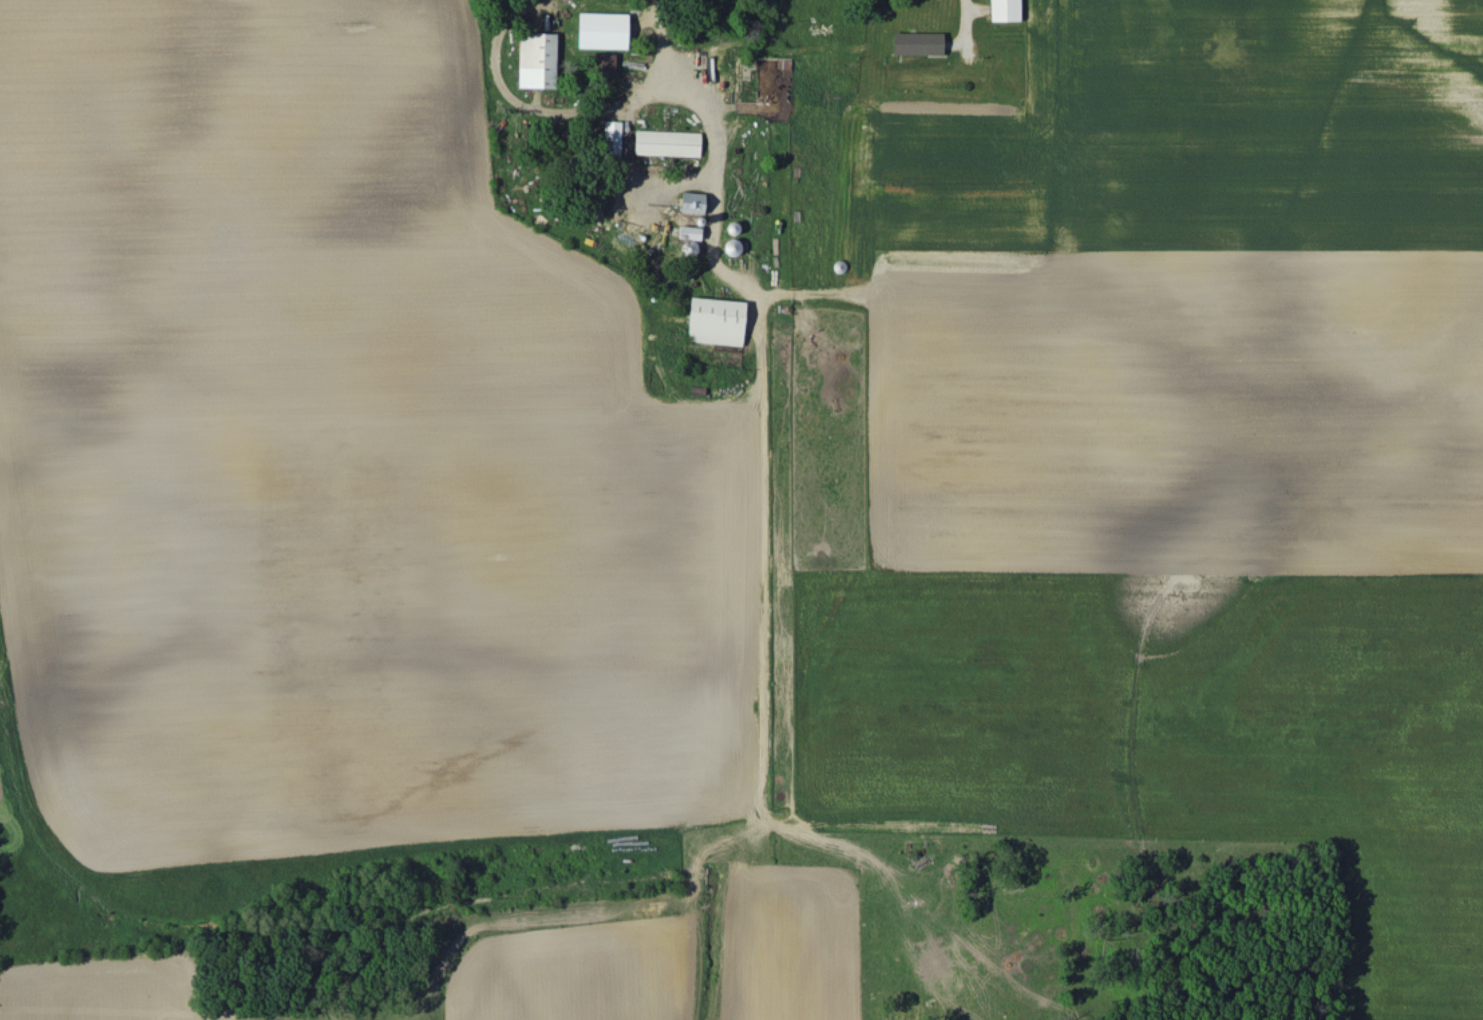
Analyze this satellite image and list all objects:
building: (1005, 10)
road: (959, 19)
building: (602, 30)
building: (918, 43)
building: (537, 59)
building: (603, 64)
building: (612, 138)
building: (667, 143)
road: (707, 157)
building: (692, 202)
building: (690, 232)
building: (716, 320)

